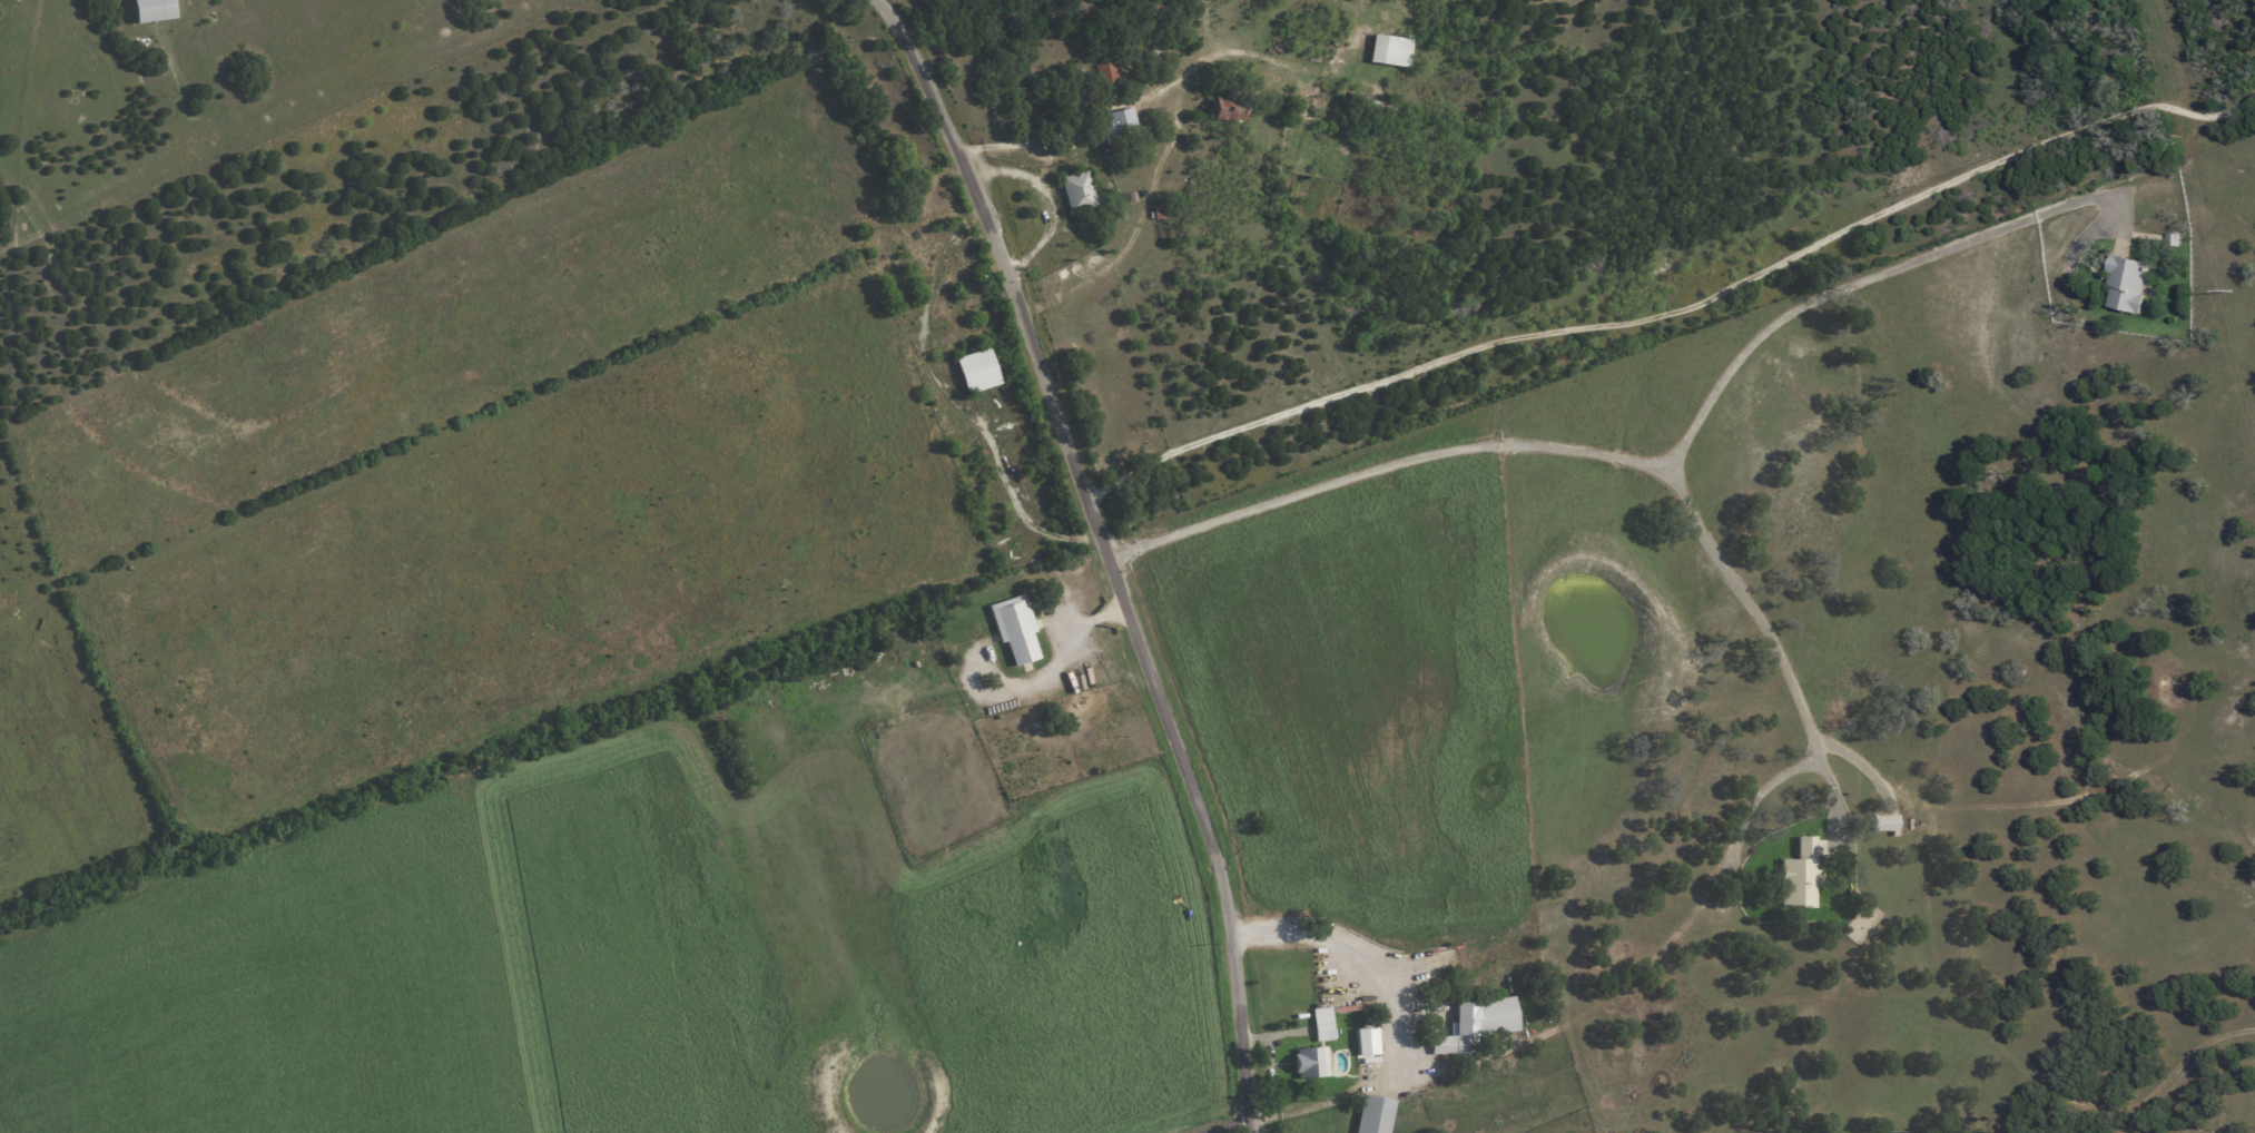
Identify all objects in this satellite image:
building: (152, 10)
building: (1388, 50)
building: (1106, 73)
building: (1227, 109)
building: (1119, 125)
building: (1076, 191)
building: (2126, 284)
power tower: (2231, 290)
road: (1681, 315)
building: (975, 371)
road: (1655, 467)
road: (1106, 553)
road: (1759, 621)
building: (1014, 629)
building: (1883, 824)
building: (1800, 876)
road: (1395, 1016)
building: (1321, 1024)
building: (1473, 1025)
building: (1366, 1042)
building: (1309, 1062)
building: (1373, 1115)
road: (1210, 1119)

